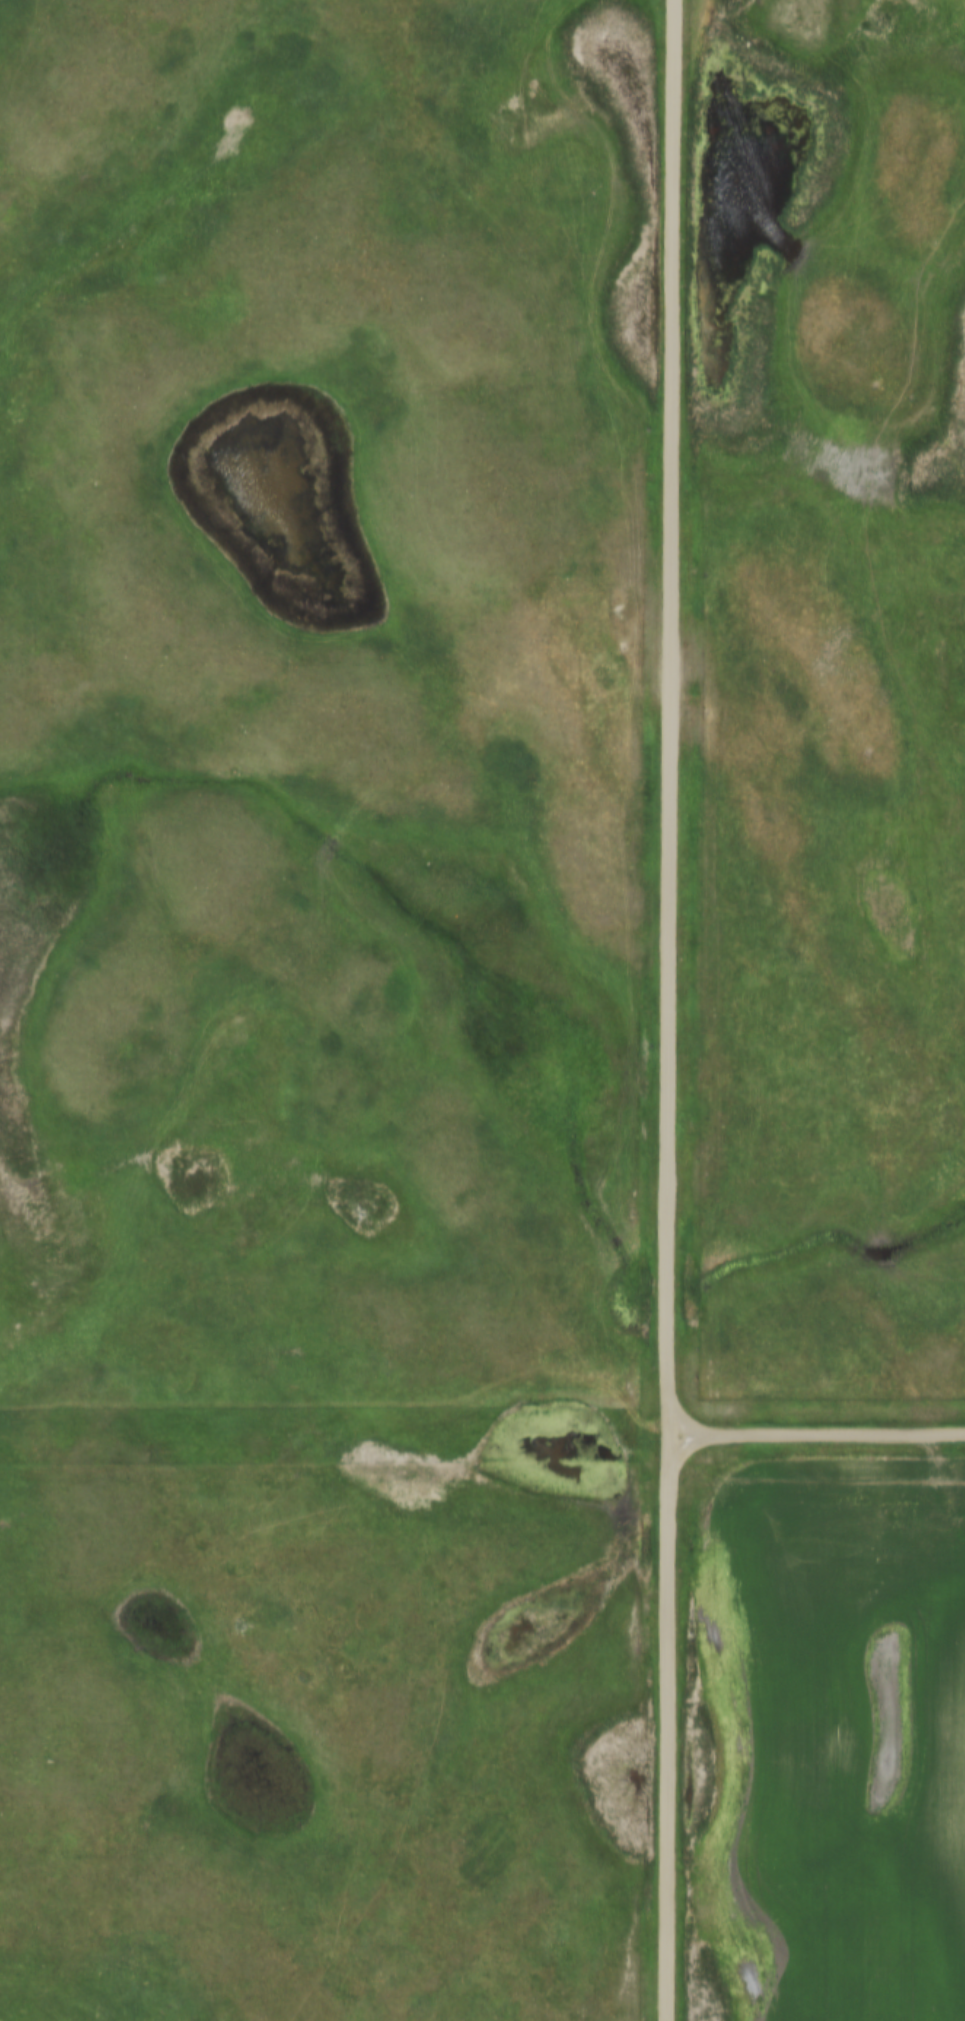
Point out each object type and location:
road: (671, 1010)
road: (820, 1437)

